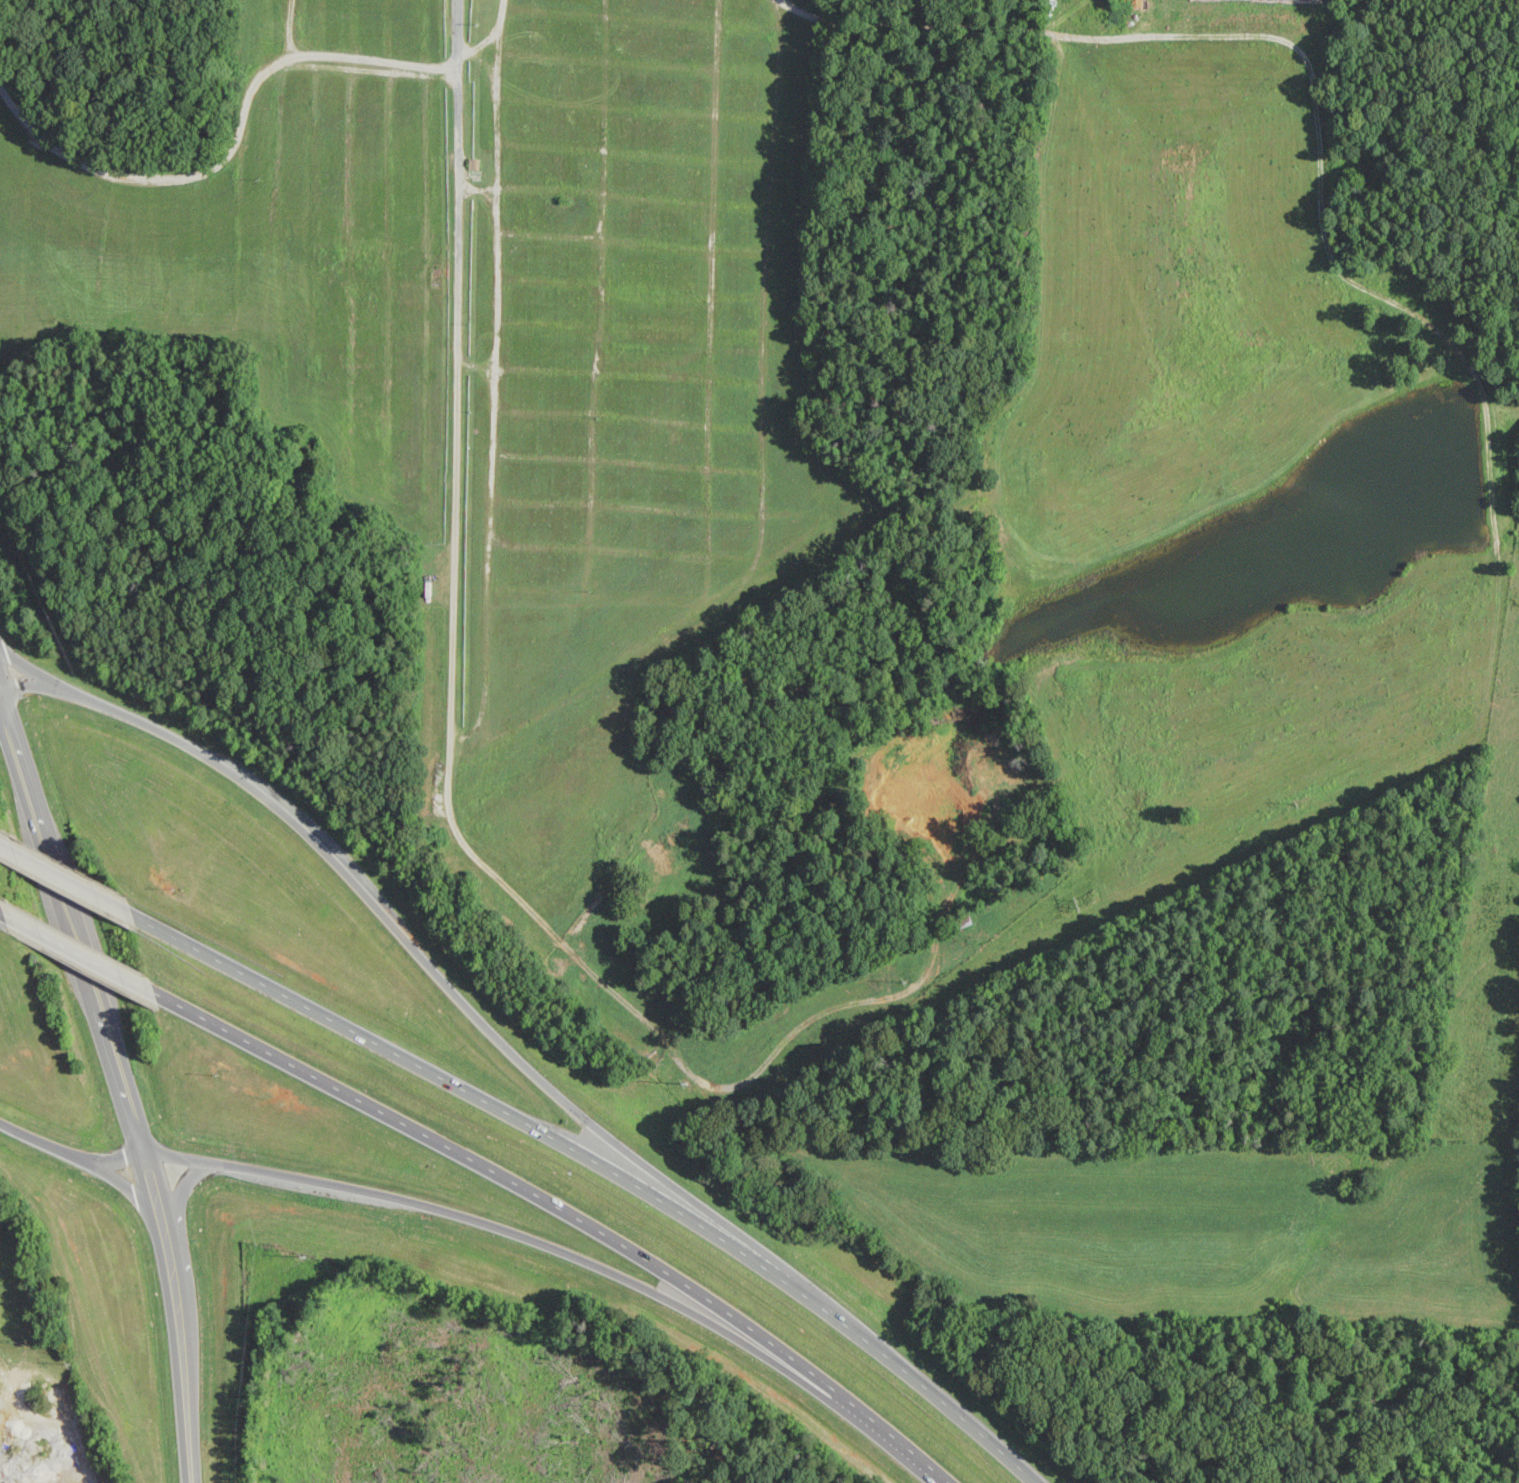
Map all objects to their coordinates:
road: (793, 9)
road: (456, 381)
road: (64, 881)
road: (6, 915)
road: (414, 938)
road: (82, 955)
road: (133, 1071)
road: (609, 1166)
road: (403, 1194)
road: (571, 1212)

